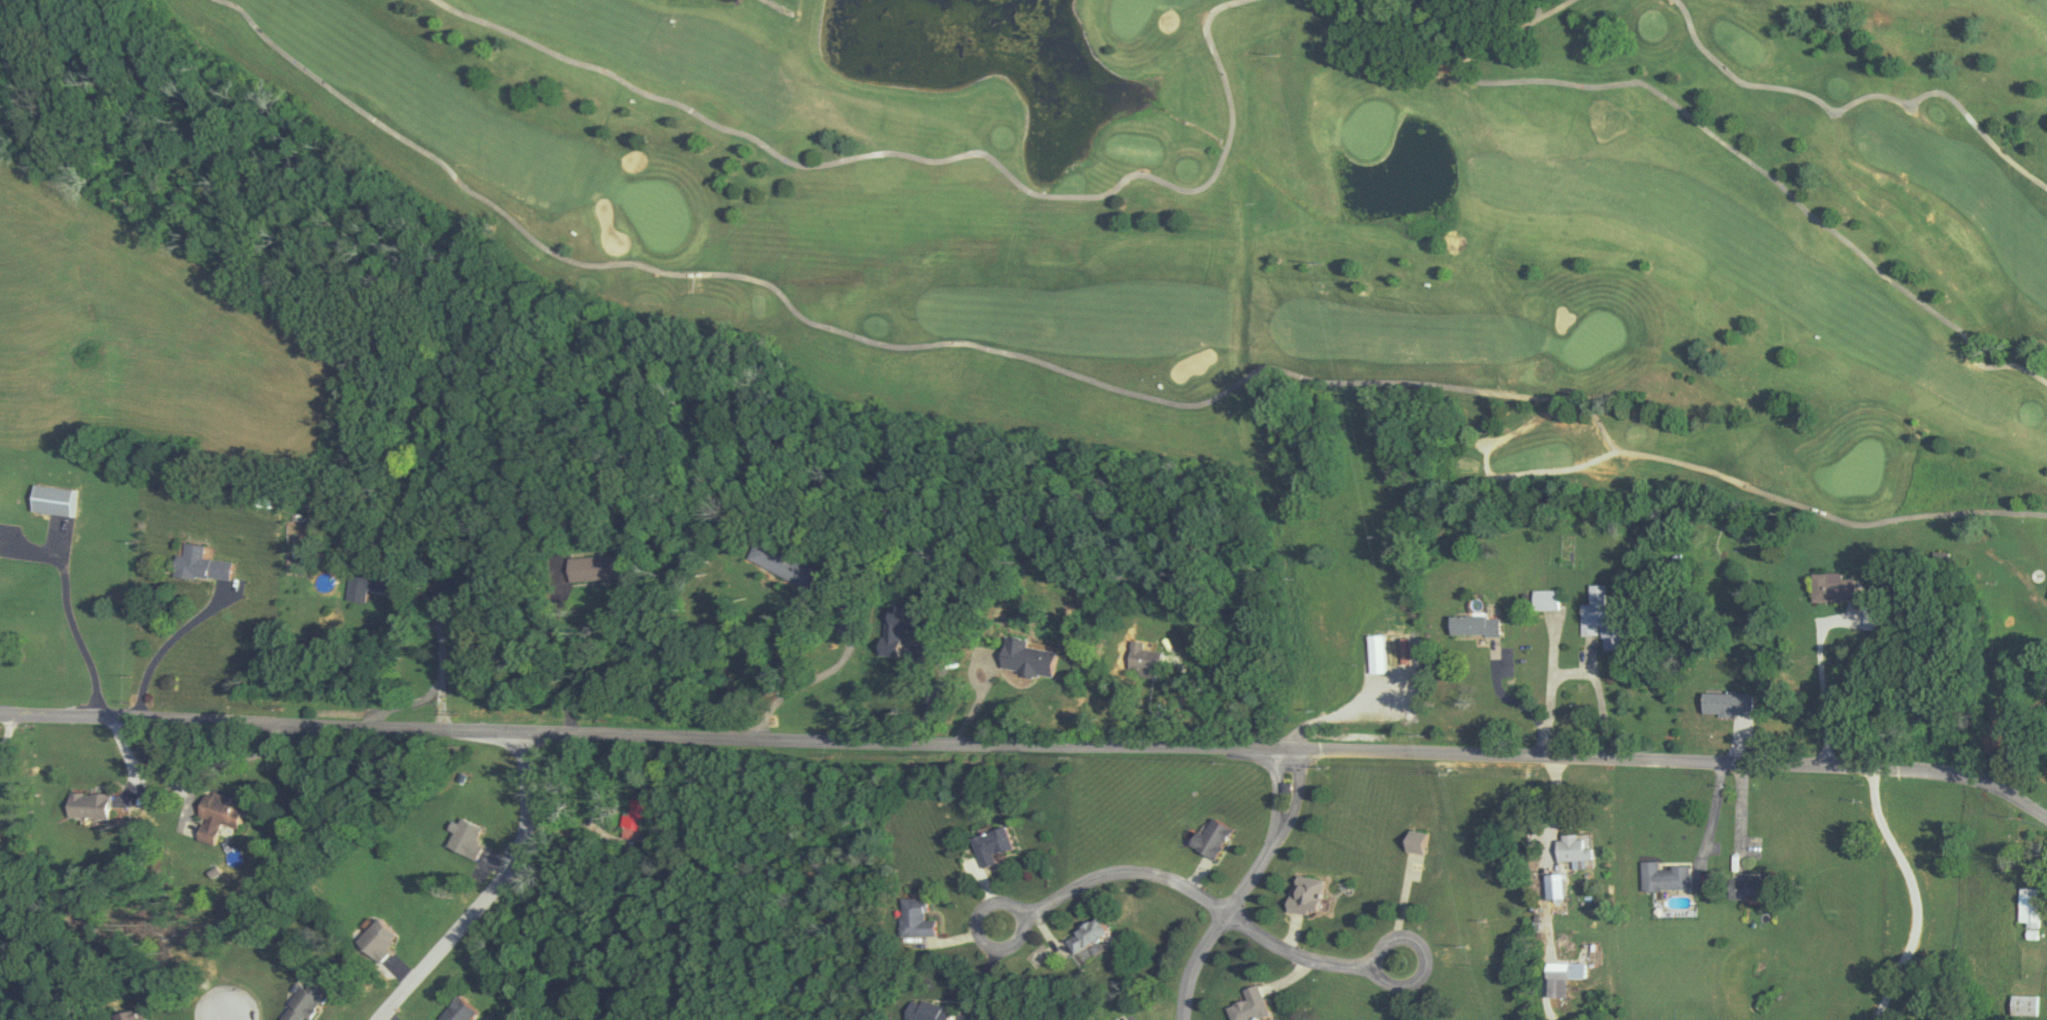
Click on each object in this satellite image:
park: (1299, 214)
building: (768, 558)
building: (197, 565)
building: (584, 568)
building: (366, 582)
building: (1826, 588)
building: (1545, 600)
road: (67, 614)
building: (1599, 618)
building: (1471, 626)
building: (889, 635)
road: (166, 641)
building: (1374, 655)
building: (1020, 659)
road: (446, 662)
road: (920, 662)
building: (1138, 662)
road: (824, 674)
road: (1821, 689)
building: (1726, 704)
road: (1029, 740)
building: (96, 806)
road: (1737, 810)
building: (229, 812)
road: (1709, 812)
building: (638, 819)
building: (4, 836)
building: (1209, 838)
building: (464, 839)
building: (1414, 840)
building: (991, 845)
building: (1571, 848)
building: (1663, 876)
building: (1551, 881)
road: (1244, 886)
building: (1743, 886)
road: (490, 891)
road: (1199, 894)
building: (1304, 894)
road: (1915, 894)
building: (2026, 909)
building: (914, 918)
building: (1082, 934)
building: (375, 940)
building: (1558, 976)
building: (299, 1002)
building: (2023, 1004)
building: (1247, 1005)
building: (455, 1011)
building: (925, 1011)
road: (230, 1016)
building: (139, 1018)

